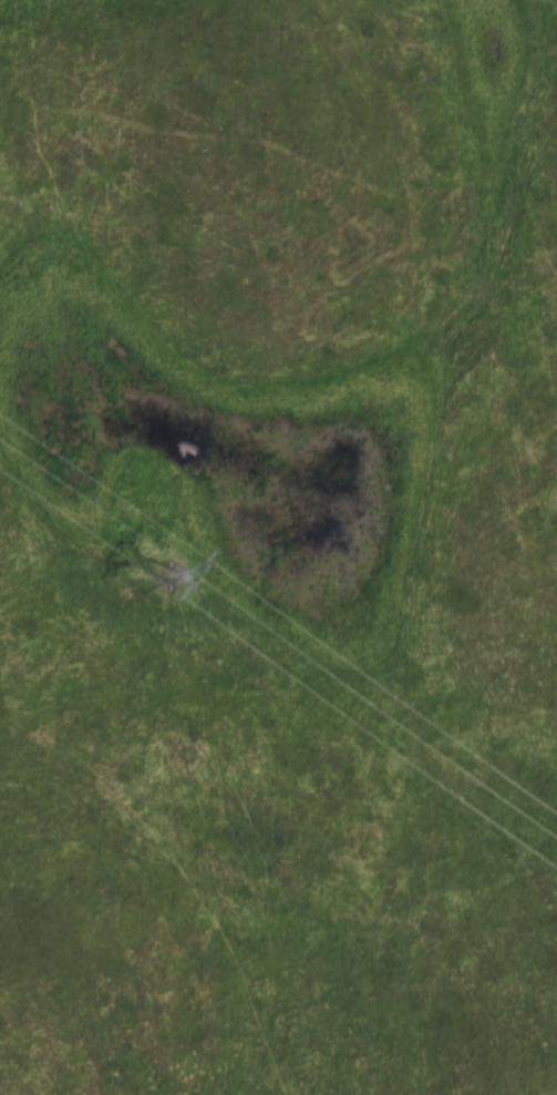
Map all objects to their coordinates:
power tower: (165, 576)

